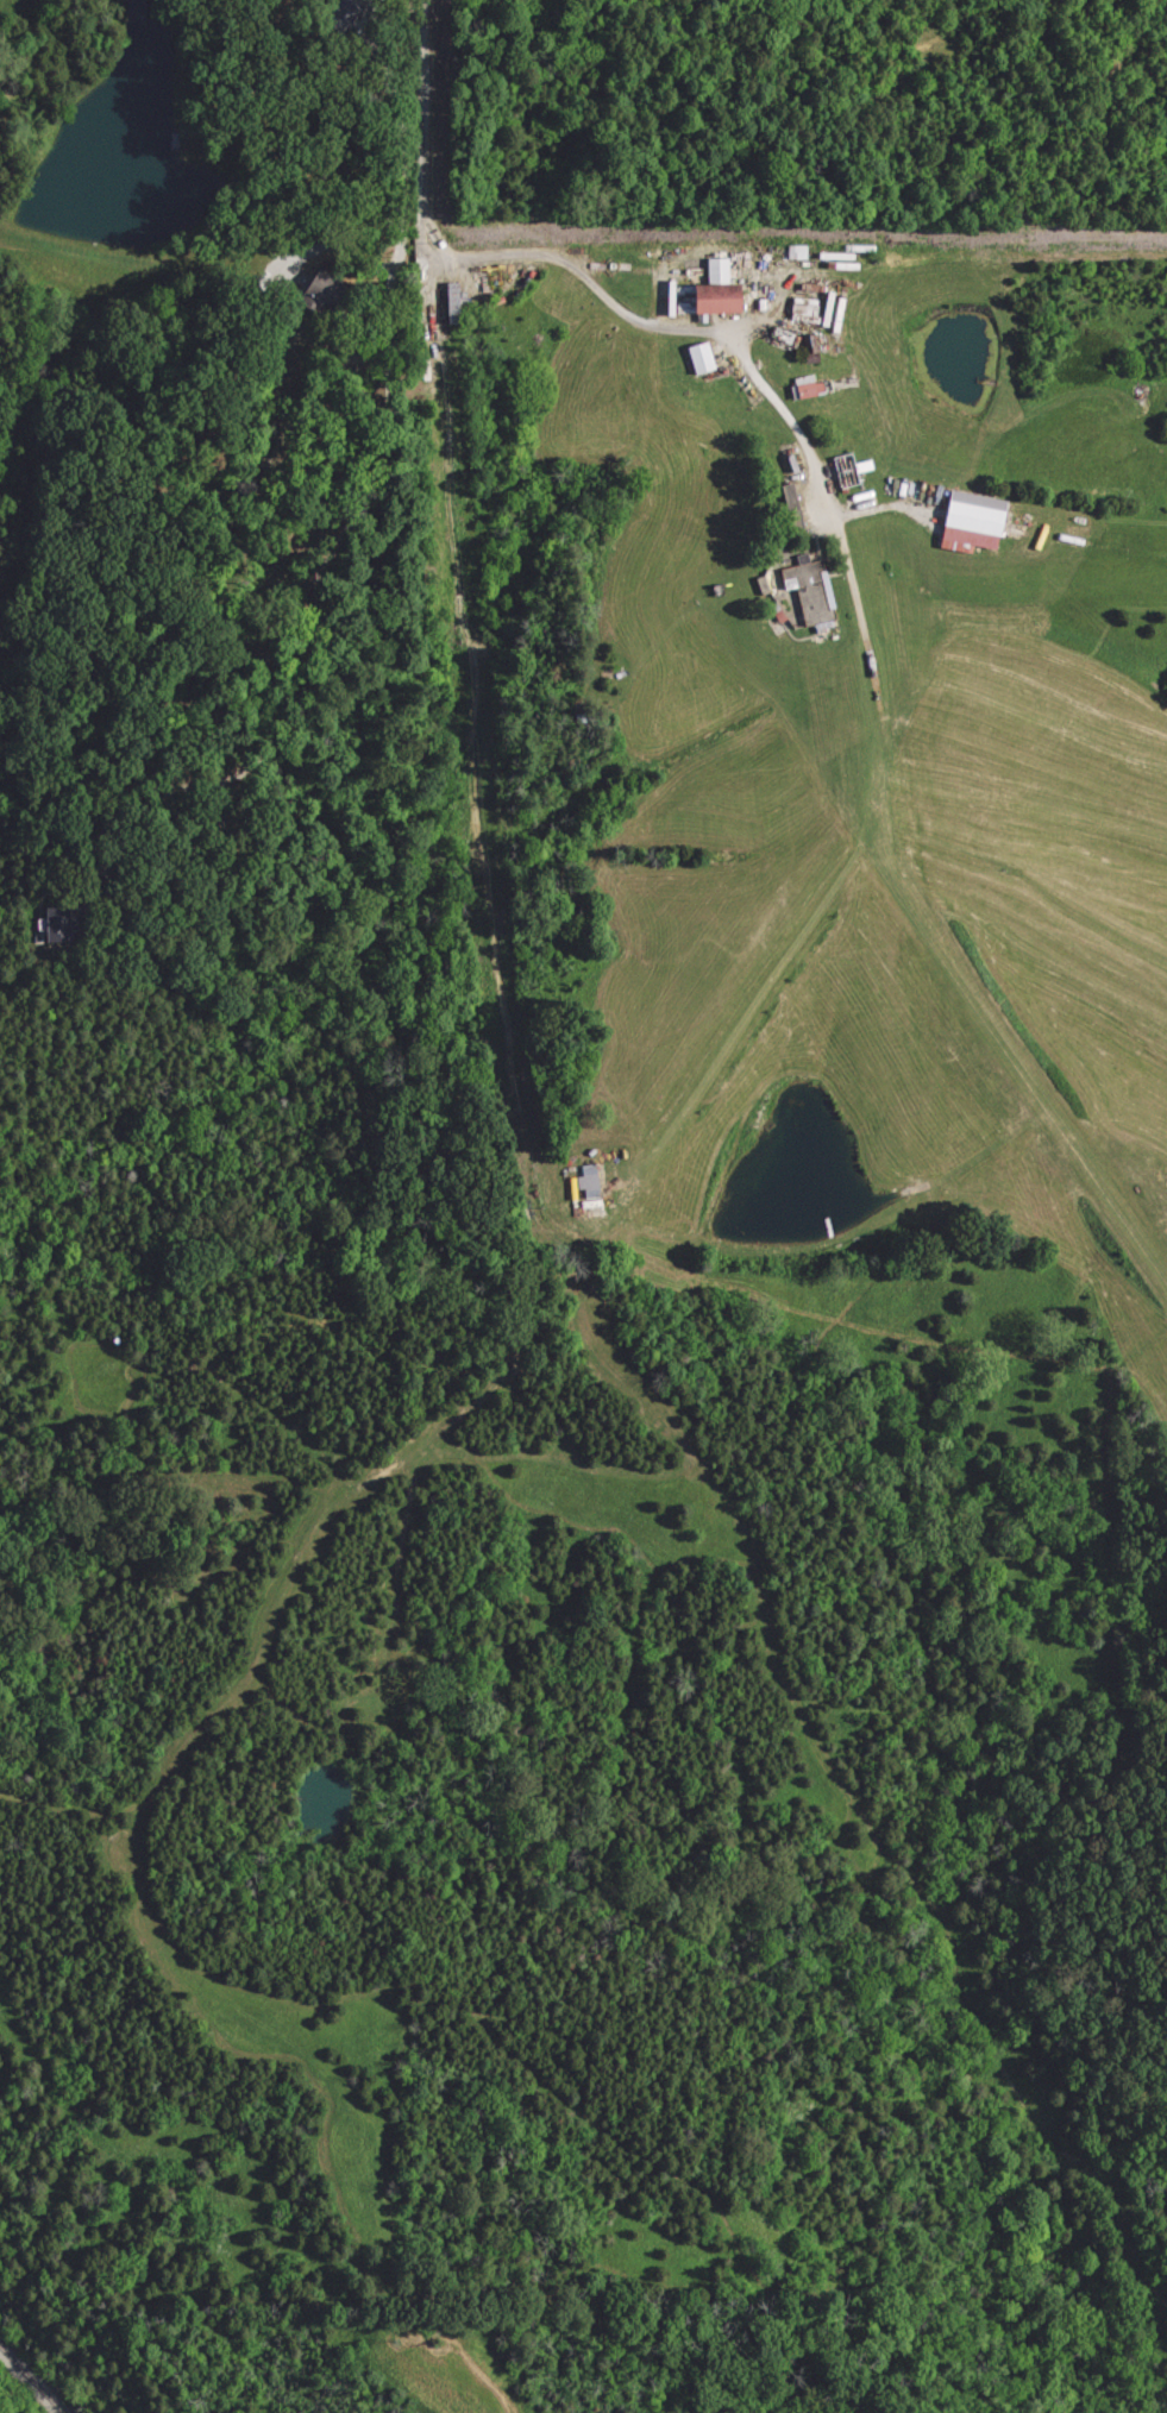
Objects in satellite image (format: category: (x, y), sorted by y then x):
road: (418, 109)
road: (402, 208)
building: (795, 252)
building: (705, 290)
building: (446, 302)
building: (801, 307)
building: (808, 347)
building: (696, 357)
road: (742, 359)
building: (804, 387)
building: (846, 470)
building: (966, 522)
building: (807, 592)
building: (52, 924)
road: (27, 967)
building: (585, 1181)
railway: (26, 2382)

